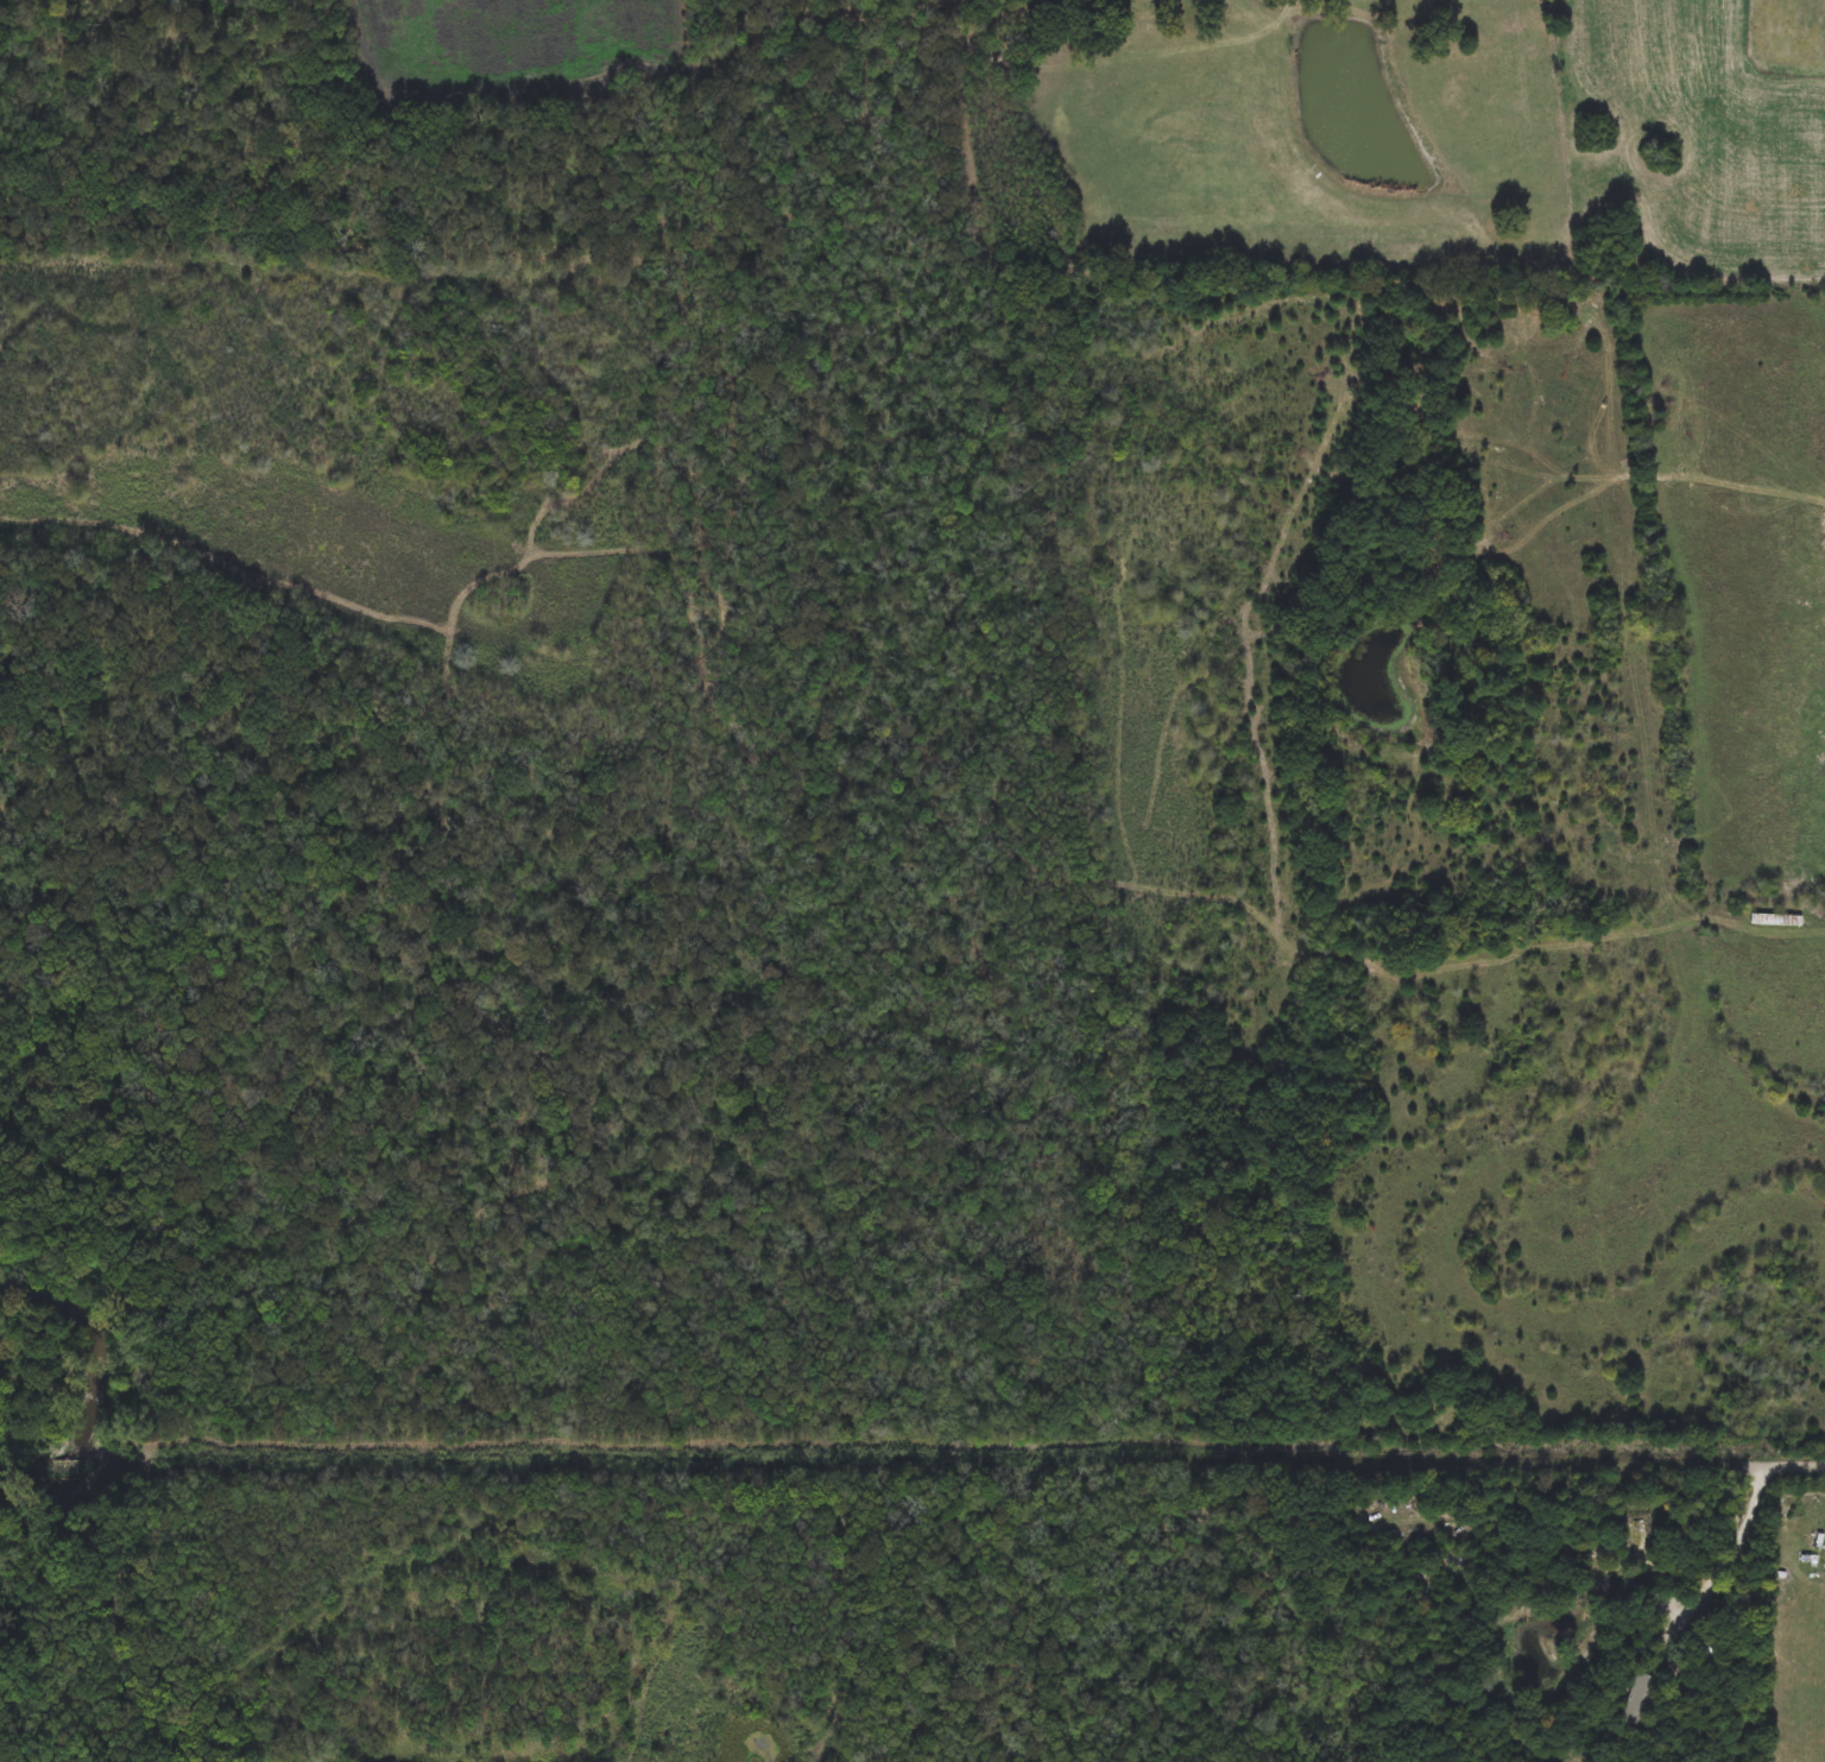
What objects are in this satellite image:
river: (90, 1420)
road: (954, 1454)
road: (24, 1467)
road: (67, 1469)
road: (1738, 1543)
building: (1642, 1700)

